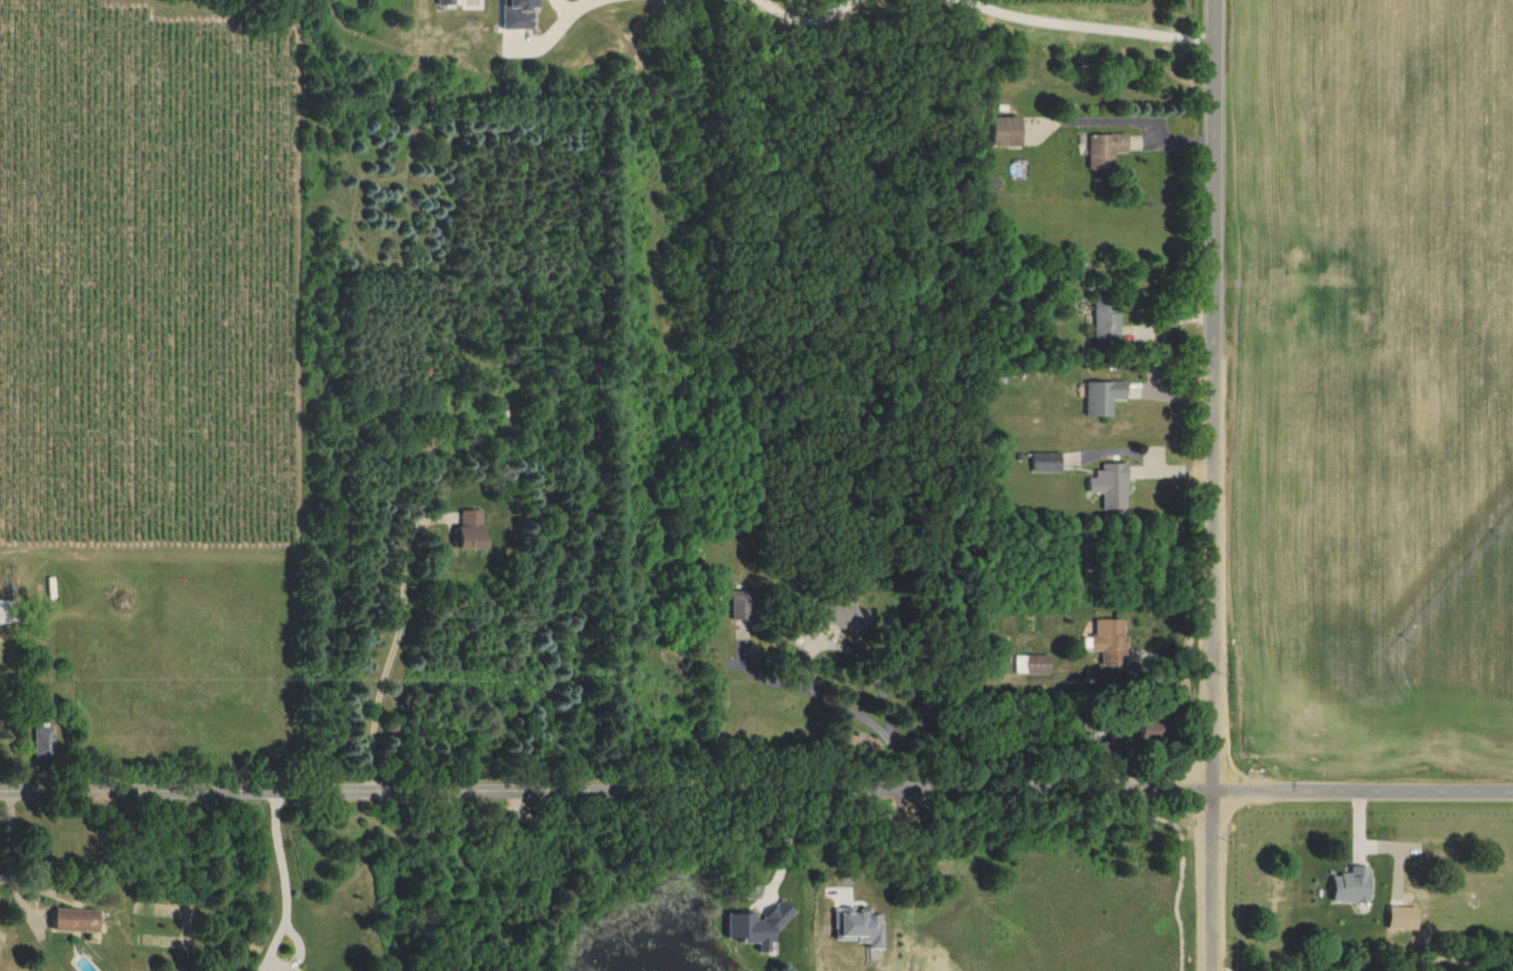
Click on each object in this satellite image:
road: (1140, 120)
building: (1005, 129)
building: (1102, 148)
building: (1106, 319)
crop: (1382, 355)
building: (1103, 395)
building: (1046, 459)
building: (1110, 483)
road: (1213, 485)
building: (471, 529)
building: (742, 603)
building: (5, 608)
building: (854, 615)
building: (1109, 640)
road: (397, 645)
building: (1032, 662)
road: (802, 668)
building: (43, 740)
road: (756, 788)
road: (786, 846)
road: (10, 852)
building: (1349, 883)
road: (280, 911)
building: (1402, 915)
building: (75, 918)
building: (758, 923)
road: (1223, 966)

